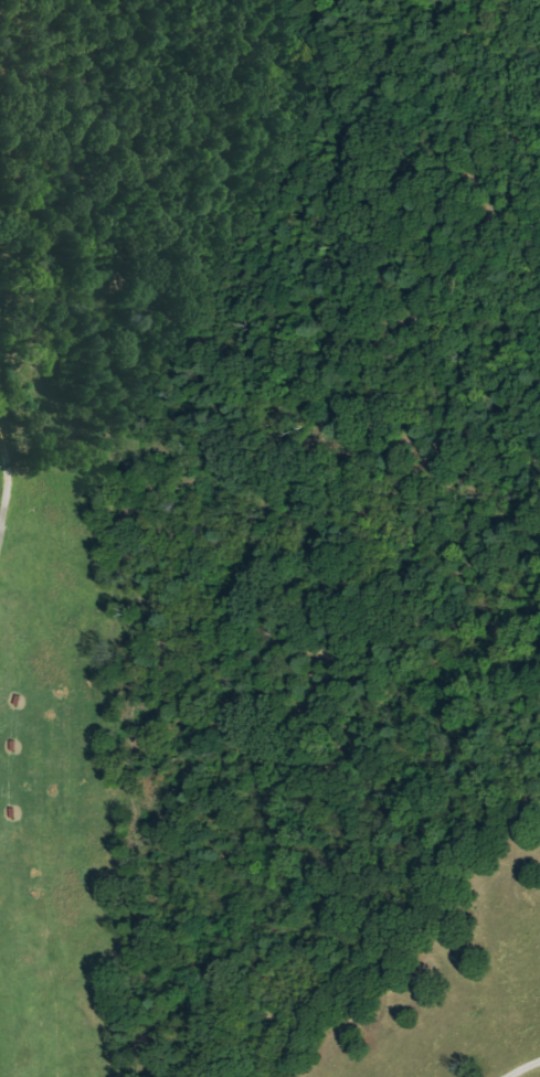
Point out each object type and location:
road: (10, 470)
road: (523, 1067)

